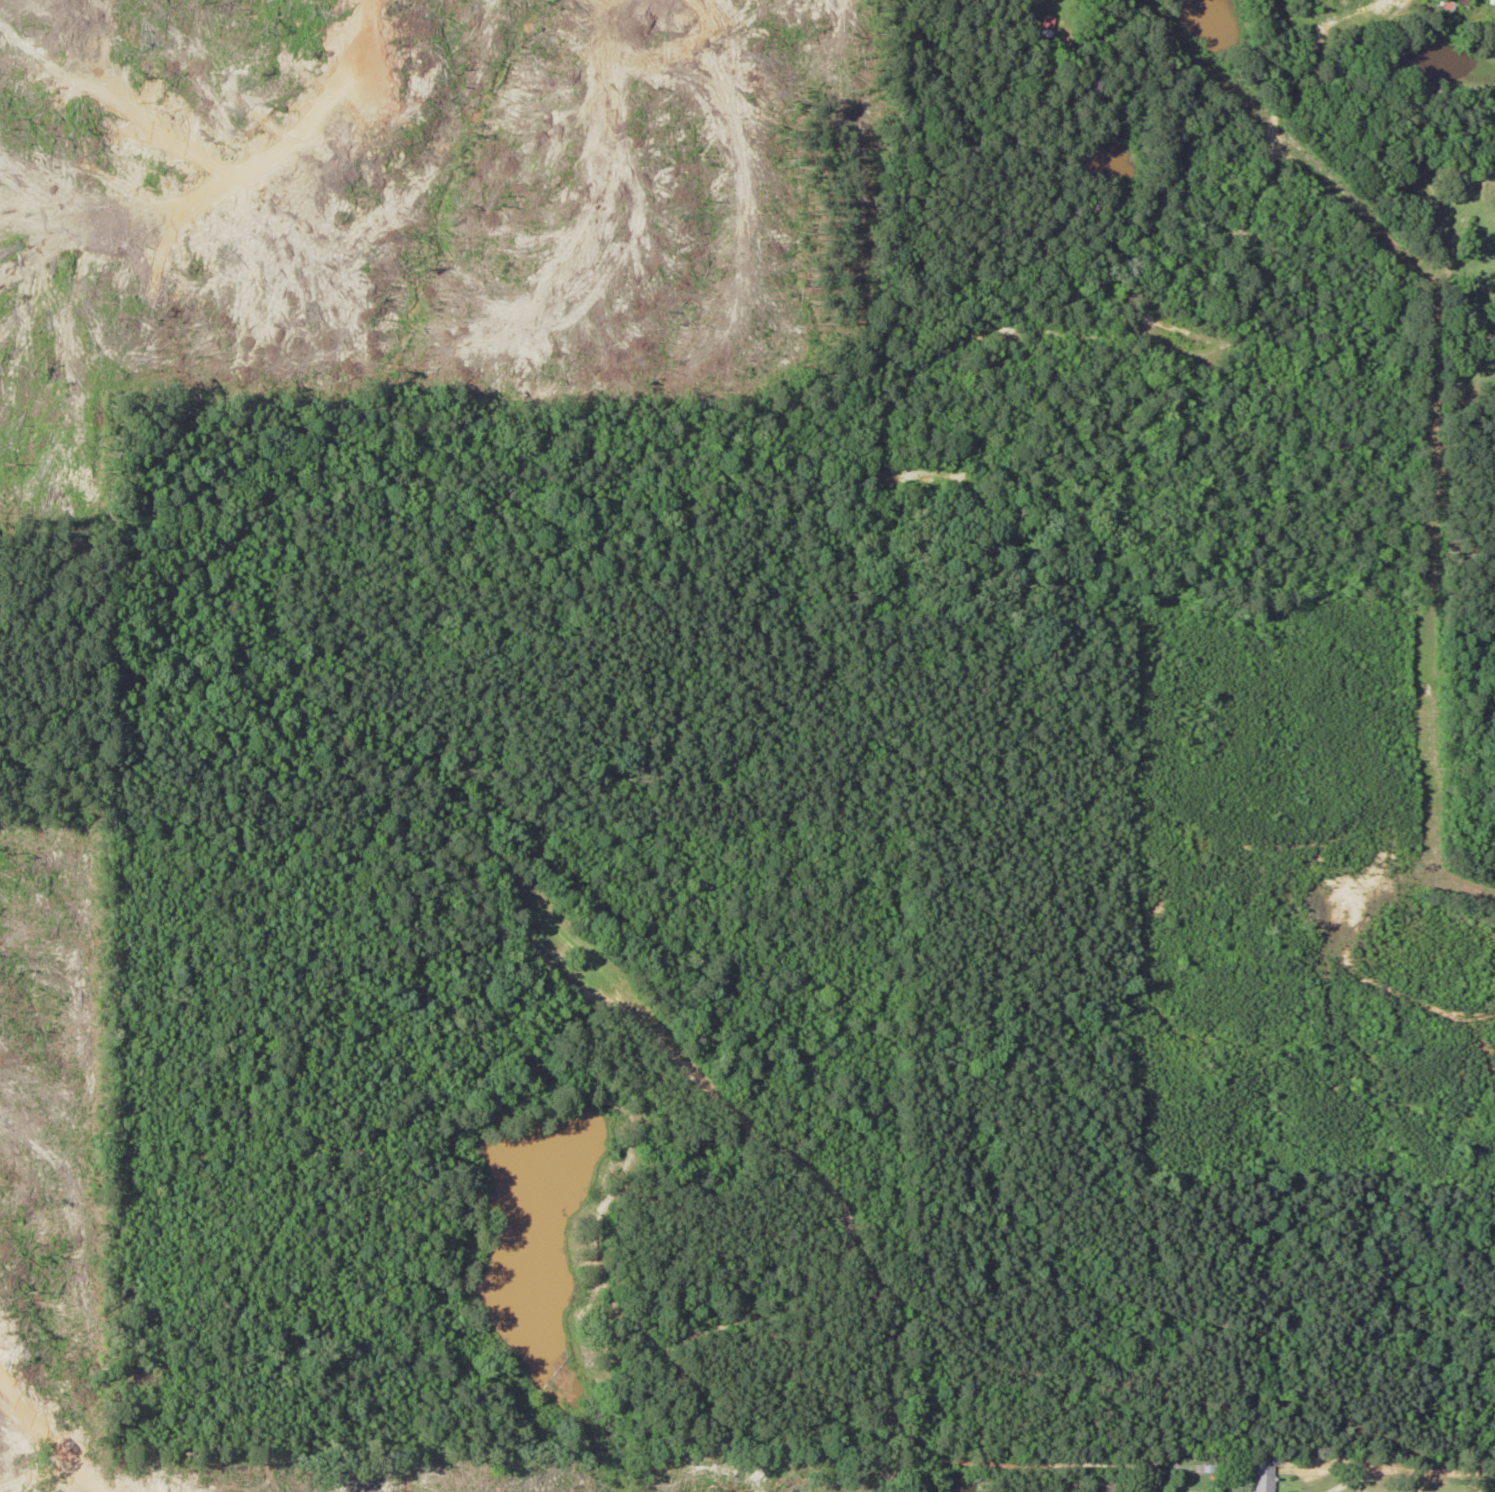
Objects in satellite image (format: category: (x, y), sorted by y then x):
building: (1461, 1)
building: (1048, 21)
road: (870, 144)
building: (1264, 1478)

